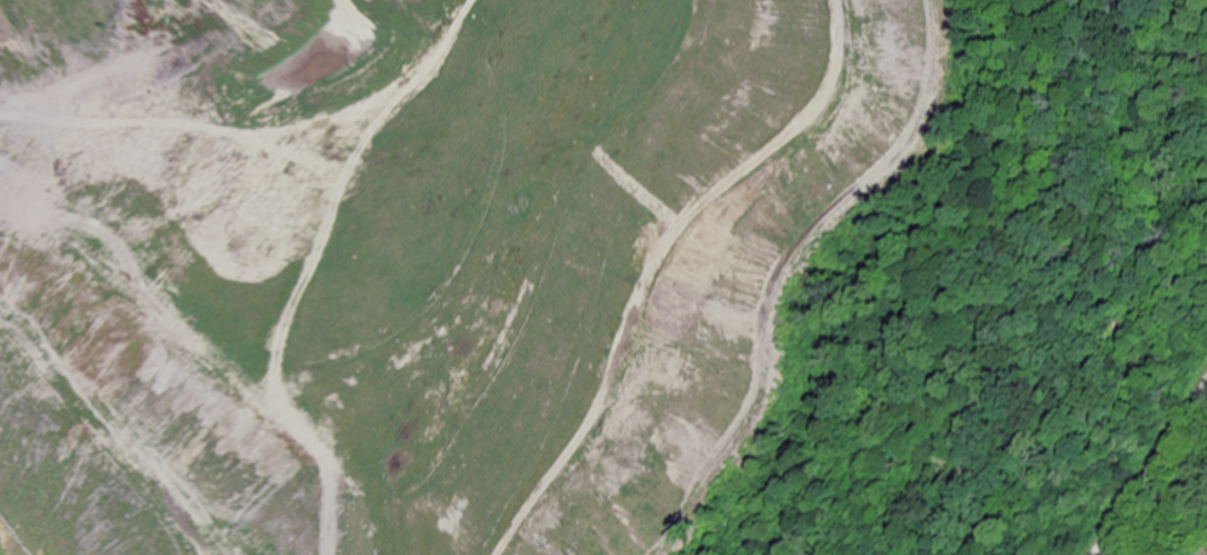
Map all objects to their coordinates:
road: (1148, 464)

